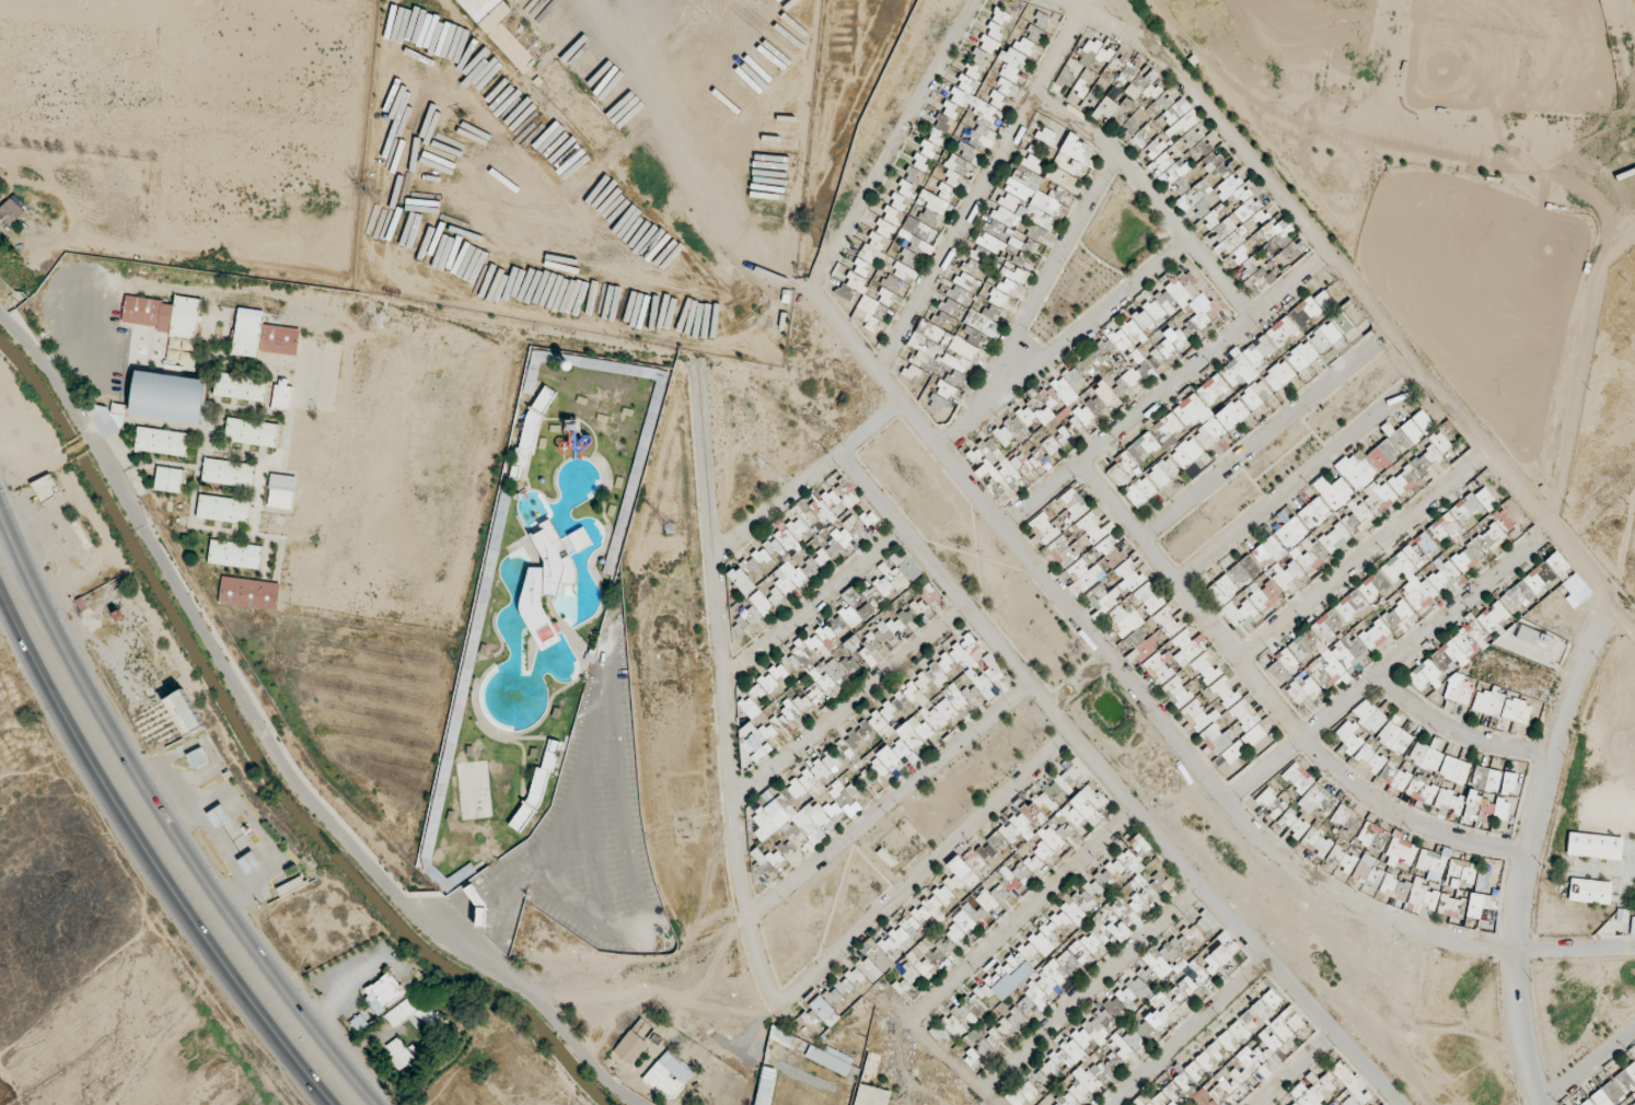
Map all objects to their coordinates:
park: (93, 8)
park: (1519, 49)
park: (268, 59)
park: (79, 82)
power tower: (666, 523)
parking lot: (588, 829)

